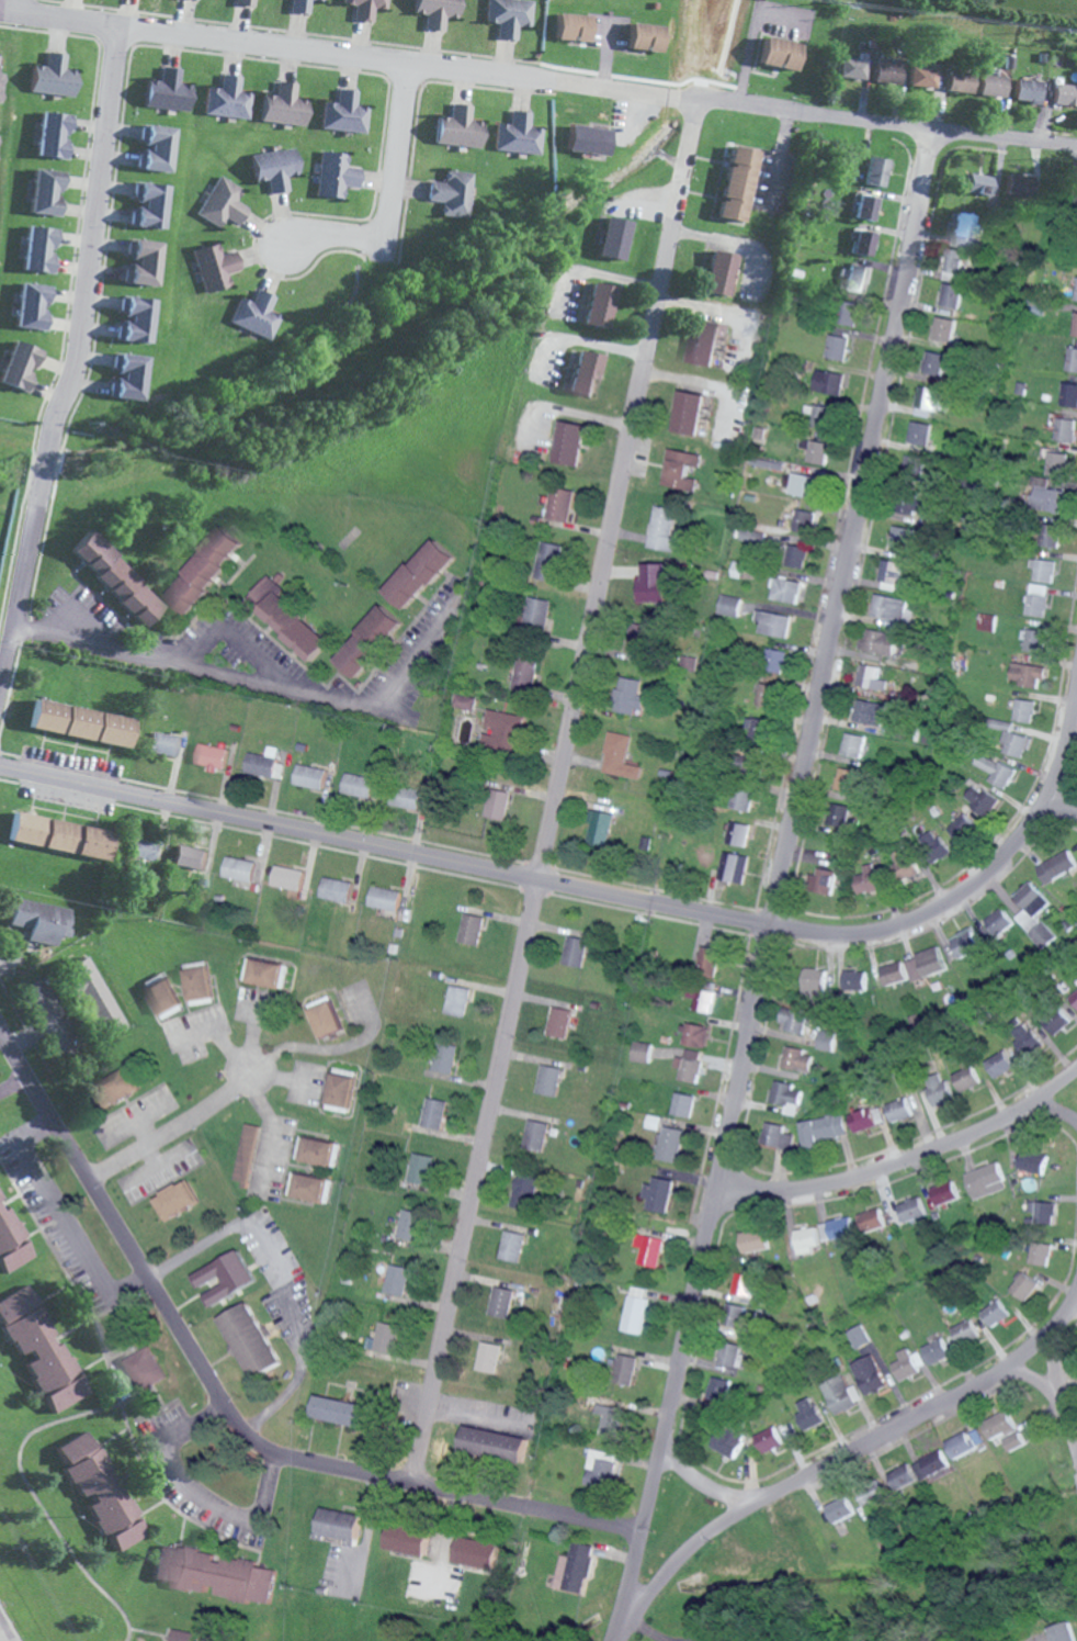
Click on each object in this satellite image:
building: (321, 0)
building: (243, 2)
building: (301, 5)
building: (366, 8)
road: (5, 12)
building: (439, 12)
building: (511, 15)
building: (572, 26)
building: (645, 36)
building: (780, 53)
building: (854, 67)
building: (889, 71)
building: (52, 76)
building: (925, 76)
building: (962, 81)
road: (544, 83)
building: (994, 85)
building: (168, 90)
building: (1029, 90)
building: (1065, 94)
building: (228, 99)
building: (283, 105)
building: (344, 113)
building: (457, 127)
building: (518, 134)
building: (52, 135)
building: (587, 139)
building: (156, 148)
road: (397, 155)
building: (274, 168)
building: (877, 171)
building: (335, 175)
building: (737, 183)
building: (979, 184)
building: (1021, 186)
building: (45, 192)
building: (452, 193)
building: (222, 203)
building: (148, 205)
building: (866, 207)
building: (963, 225)
building: (613, 238)
road: (333, 239)
building: (863, 243)
building: (37, 249)
building: (140, 262)
building: (955, 263)
building: (212, 267)
building: (718, 272)
building: (855, 278)
building: (952, 295)
building: (1076, 296)
building: (30, 305)
building: (599, 305)
building: (850, 313)
building: (253, 315)
building: (134, 319)
building: (945, 329)
building: (1076, 329)
building: (704, 342)
building: (838, 347)
road: (77, 348)
building: (1073, 359)
building: (934, 364)
building: (18, 366)
building: (949, 369)
building: (583, 373)
building: (127, 376)
building: (829, 381)
building: (1070, 394)
building: (926, 401)
building: (689, 412)
building: (819, 416)
building: (1067, 430)
building: (920, 432)
building: (760, 434)
building: (569, 442)
building: (816, 450)
building: (1058, 461)
building: (682, 470)
building: (804, 484)
building: (1048, 494)
building: (559, 504)
building: (912, 507)
building: (804, 520)
building: (662, 528)
building: (900, 537)
building: (1052, 538)
building: (796, 555)
building: (548, 561)
building: (204, 570)
building: (1044, 570)
building: (418, 574)
building: (889, 575)
building: (115, 580)
building: (654, 582)
building: (785, 589)
building: (1038, 599)
building: (729, 605)
building: (892, 608)
building: (537, 611)
building: (291, 621)
building: (986, 621)
building: (774, 623)
building: (638, 638)
building: (1033, 639)
building: (366, 641)
building: (878, 641)
road: (235, 642)
building: (774, 660)
building: (1027, 674)
building: (523, 676)
road: (246, 677)
building: (871, 677)
building: (767, 695)
building: (627, 696)
building: (464, 701)
building: (1023, 710)
building: (870, 712)
building: (503, 722)
building: (80, 723)
building: (999, 724)
building: (760, 727)
road: (559, 741)
building: (1013, 743)
building: (162, 744)
building: (854, 745)
building: (211, 756)
building: (620, 756)
building: (260, 762)
building: (995, 769)
building: (307, 776)
building: (848, 779)
building: (356, 785)
building: (404, 797)
building: (742, 798)
building: (980, 798)
road: (1062, 802)
building: (497, 803)
building: (840, 814)
building: (491, 827)
building: (959, 828)
building: (600, 830)
building: (738, 833)
building: (58, 836)
building: (647, 844)
building: (933, 845)
building: (140, 850)
building: (190, 858)
building: (903, 863)
building: (1057, 866)
building: (734, 867)
building: (237, 868)
building: (286, 877)
building: (869, 879)
building: (825, 880)
road: (776, 886)
building: (335, 889)
building: (383, 898)
road: (612, 898)
building: (1034, 913)
building: (39, 921)
building: (999, 922)
building: (471, 929)
building: (968, 941)
building: (574, 952)
building: (708, 962)
building: (926, 965)
building: (894, 973)
building: (855, 980)
building: (196, 984)
building: (814, 984)
building: (161, 996)
building: (89, 997)
building: (1074, 998)
building: (702, 999)
building: (456, 1000)
building: (324, 1020)
building: (794, 1020)
building: (558, 1022)
building: (1058, 1022)
road: (222, 1035)
building: (693, 1035)
building: (827, 1041)
building: (639, 1052)
building: (443, 1058)
building: (796, 1059)
building: (999, 1065)
building: (687, 1069)
building: (966, 1078)
building: (547, 1080)
road: (11, 1082)
road: (1074, 1082)
building: (115, 1088)
building: (338, 1092)
building: (940, 1093)
building: (786, 1097)
building: (681, 1105)
building: (897, 1110)
building: (432, 1113)
building: (866, 1119)
building: (650, 1122)
road: (274, 1125)
building: (824, 1128)
road: (172, 1132)
building: (535, 1135)
building: (776, 1136)
building: (669, 1145)
building: (316, 1153)
building: (246, 1154)
building: (1033, 1162)
road: (904, 1166)
building: (420, 1169)
building: (987, 1180)
building: (306, 1188)
building: (523, 1191)
building: (945, 1193)
building: (657, 1194)
building: (0, 1199)
building: (175, 1200)
building: (912, 1210)
building: (1044, 1210)
road: (60, 1219)
building: (872, 1221)
building: (409, 1225)
building: (838, 1229)
building: (755, 1241)
building: (806, 1241)
building: (12, 1243)
building: (511, 1247)
building: (647, 1248)
building: (1042, 1252)
road: (281, 1277)
building: (225, 1278)
building: (397, 1280)
building: (744, 1283)
building: (1025, 1285)
building: (501, 1301)
building: (635, 1308)
building: (996, 1312)
building: (736, 1316)
building: (965, 1329)
building: (859, 1336)
building: (385, 1337)
building: (249, 1338)
building: (39, 1348)
building: (938, 1349)
building: (733, 1352)
building: (488, 1356)
building: (906, 1364)
building: (141, 1368)
building: (622, 1369)
building: (869, 1373)
road: (1030, 1379)
building: (841, 1393)
road: (1055, 1394)
building: (340, 1409)
road: (228, 1410)
building: (809, 1412)
building: (606, 1417)
building: (999, 1424)
building: (786, 1429)
building: (1025, 1431)
building: (768, 1439)
building: (727, 1441)
building: (965, 1441)
building: (1013, 1441)
building: (492, 1442)
road: (840, 1458)
building: (930, 1464)
building: (598, 1465)
building: (902, 1476)
road: (702, 1485)
road: (193, 1490)
building: (101, 1492)
building: (872, 1496)
building: (839, 1508)
building: (338, 1524)
building: (406, 1538)
building: (475, 1551)
building: (163, 1562)
building: (574, 1567)
building: (225, 1575)
building: (1065, 1631)

